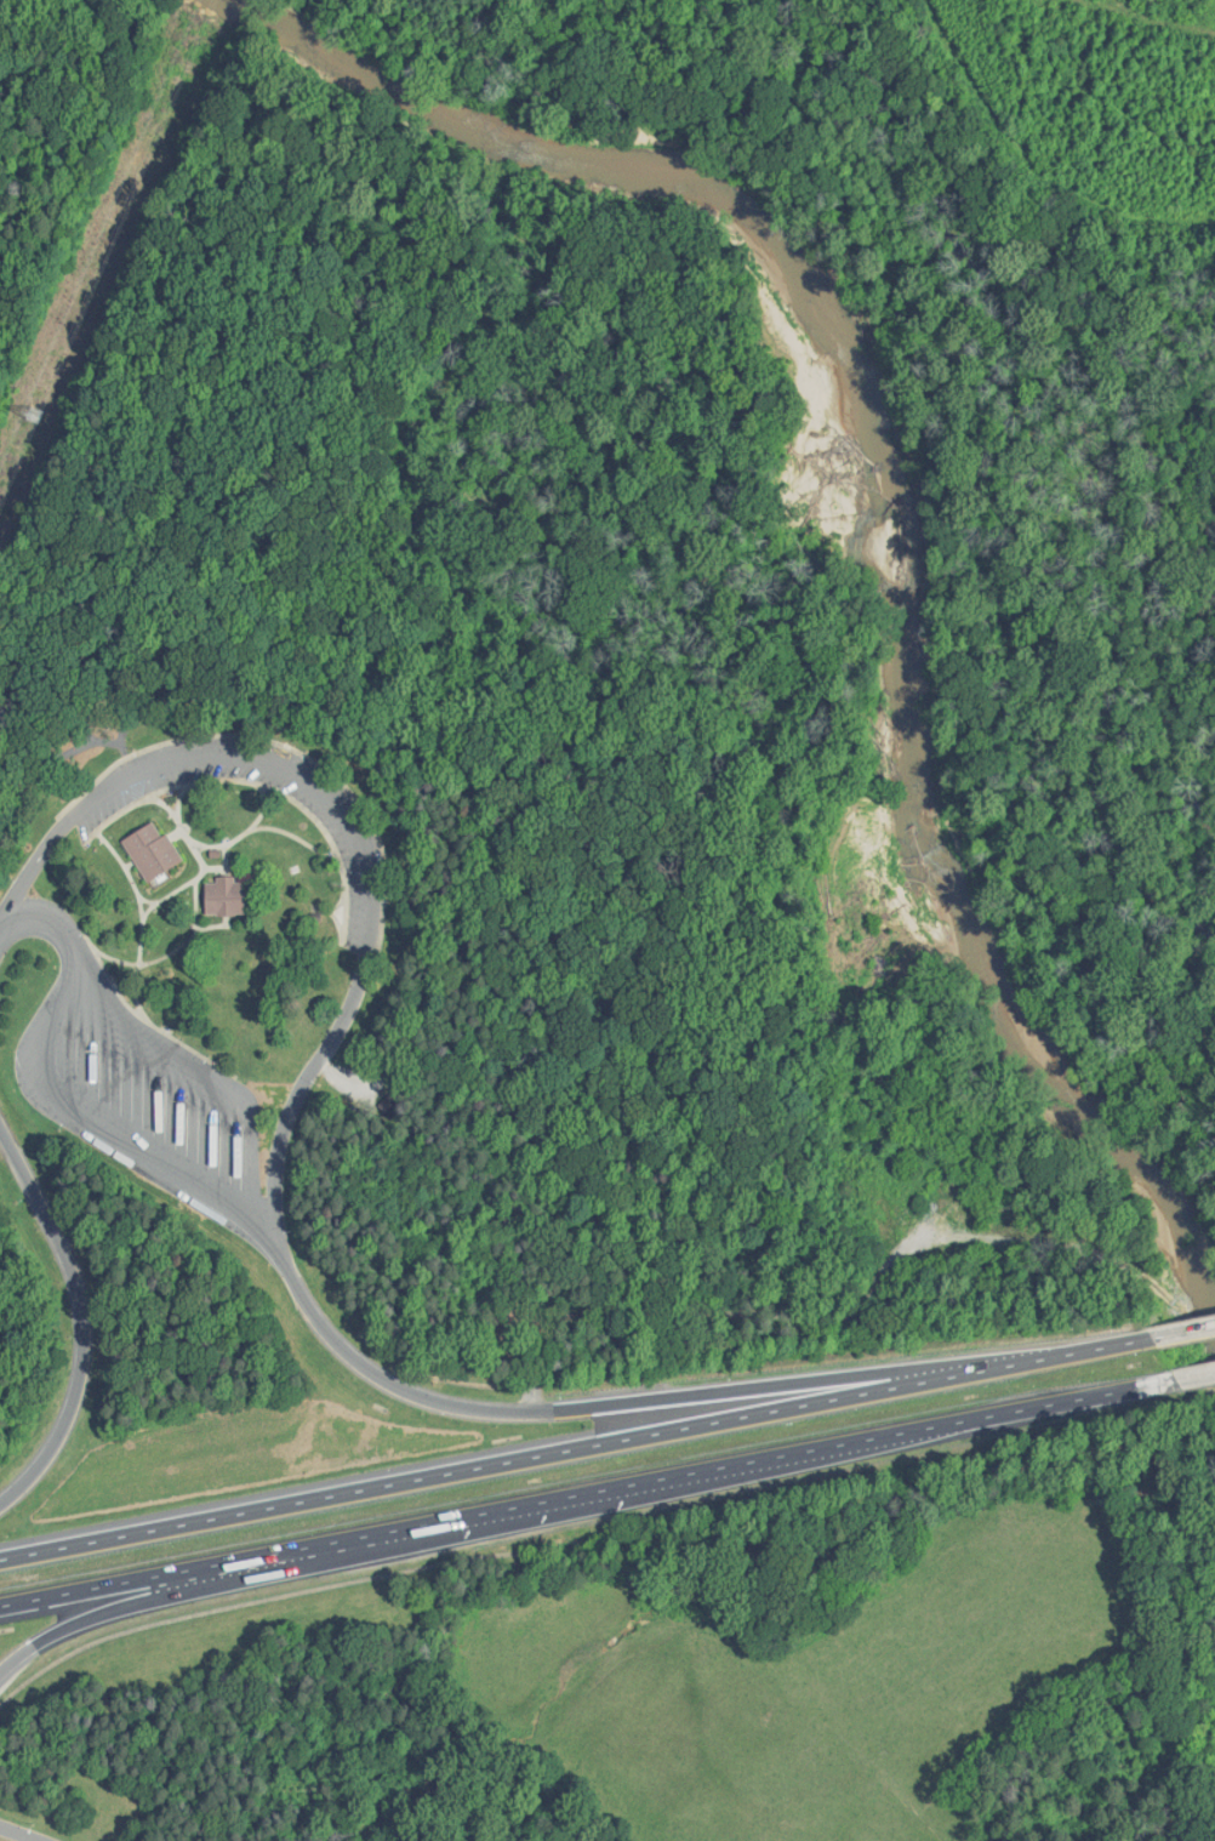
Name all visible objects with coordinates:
road: (261, 786)
road: (178, 799)
road: (176, 834)
road: (243, 834)
road: (296, 837)
road: (365, 845)
parking lot: (358, 849)
building: (152, 853)
road: (224, 861)
road: (202, 863)
road: (130, 865)
road: (215, 868)
building: (226, 897)
road: (146, 900)
road: (195, 906)
road: (142, 924)
road: (164, 956)
road: (146, 1020)
road: (202, 1073)
parking lot: (142, 1095)
road: (75, 1106)
road: (82, 1320)
road: (1183, 1333)
road: (1193, 1377)
road: (669, 1398)
road: (575, 1449)
road: (586, 1494)
road: (304, 1571)
road: (19, 1834)

